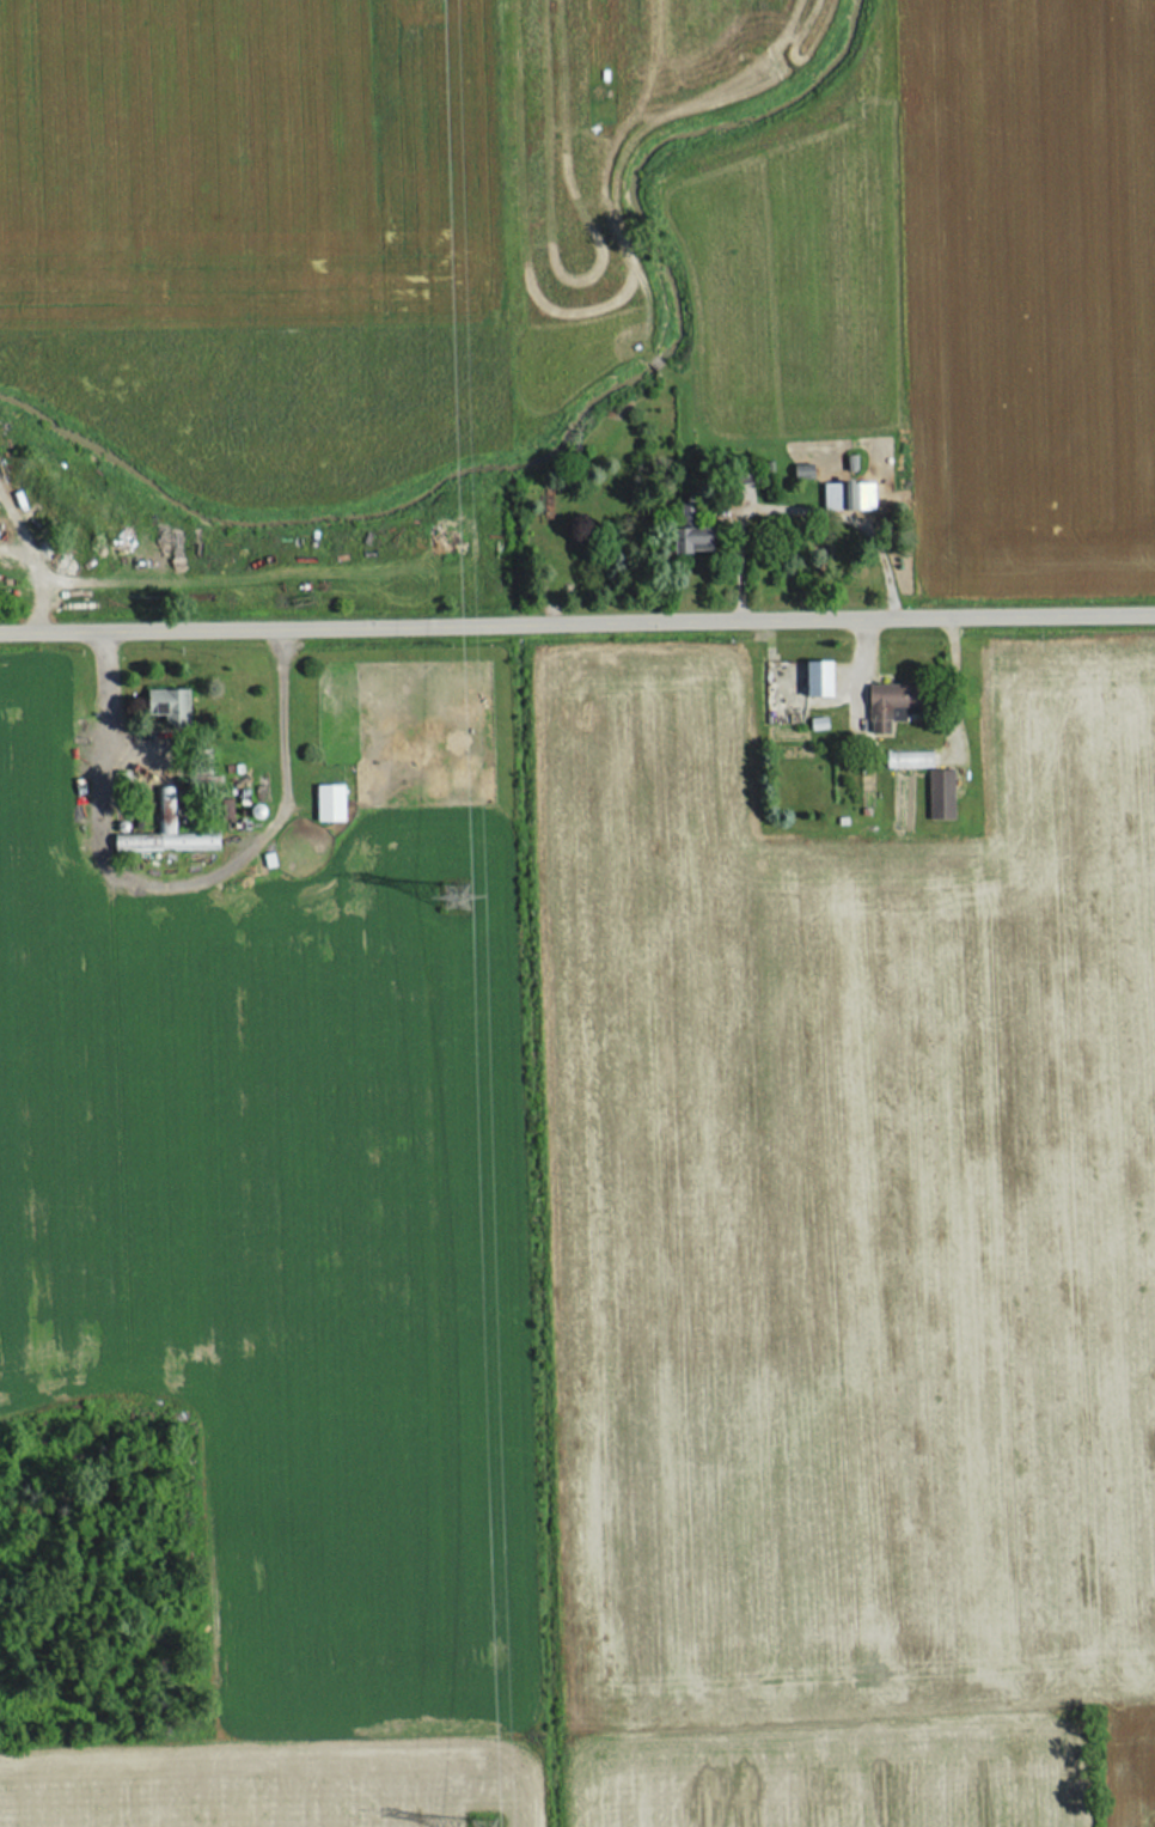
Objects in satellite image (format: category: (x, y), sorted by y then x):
crop: (605, 120)
crop: (255, 227)
crop: (803, 270)
crop: (1027, 292)
building: (844, 494)
road: (794, 513)
road: (12, 529)
building: (689, 536)
road: (33, 577)
road: (576, 616)
building: (815, 677)
building: (164, 704)
building: (888, 704)
building: (905, 761)
building: (937, 793)
building: (326, 802)
building: (161, 832)
road: (176, 885)
power tower: (447, 894)
crop: (850, 1216)
crop: (295, 1242)
crop: (604, 1778)
power tower: (481, 1825)

